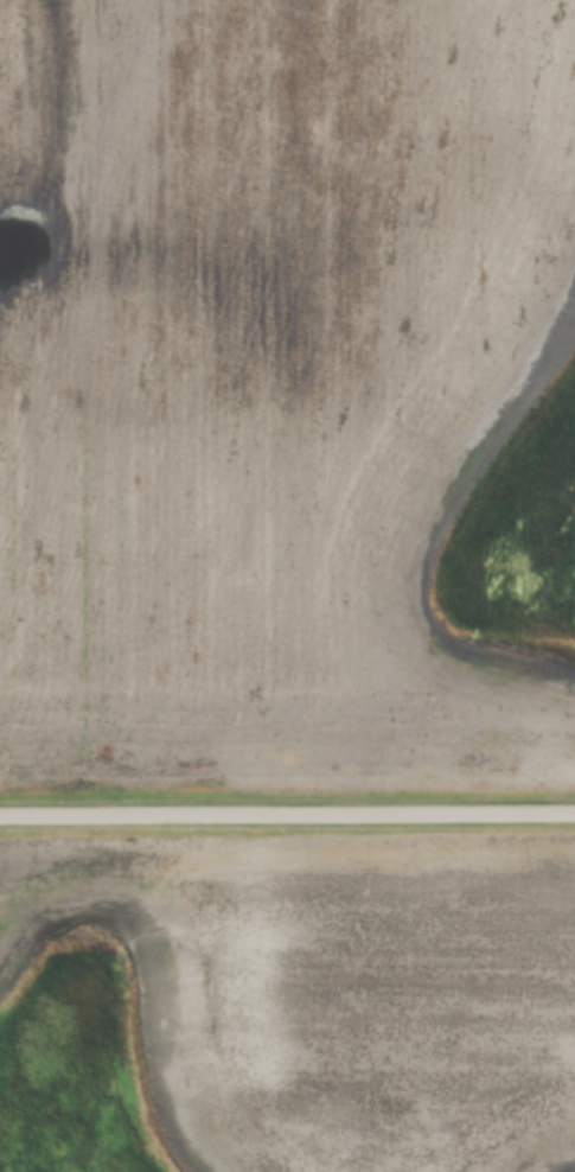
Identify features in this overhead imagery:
road: (287, 819)

